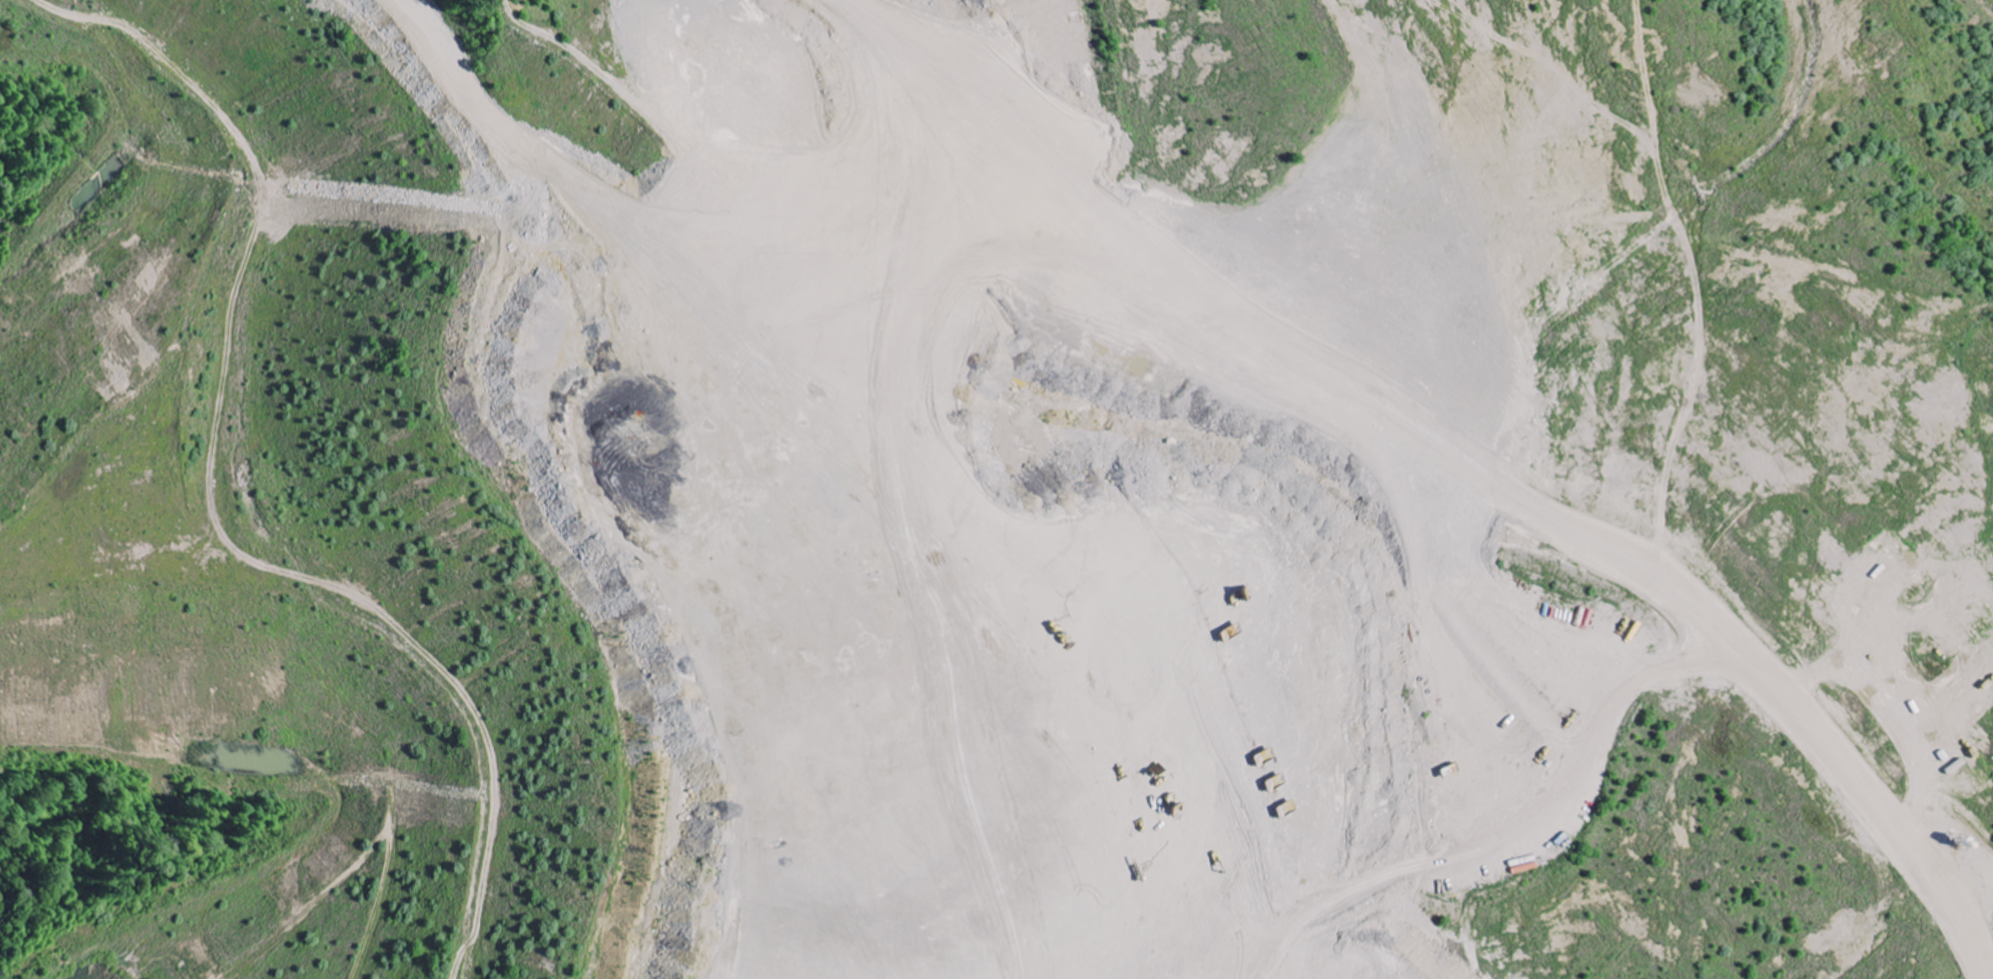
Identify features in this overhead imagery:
quarry: (996, 489)

